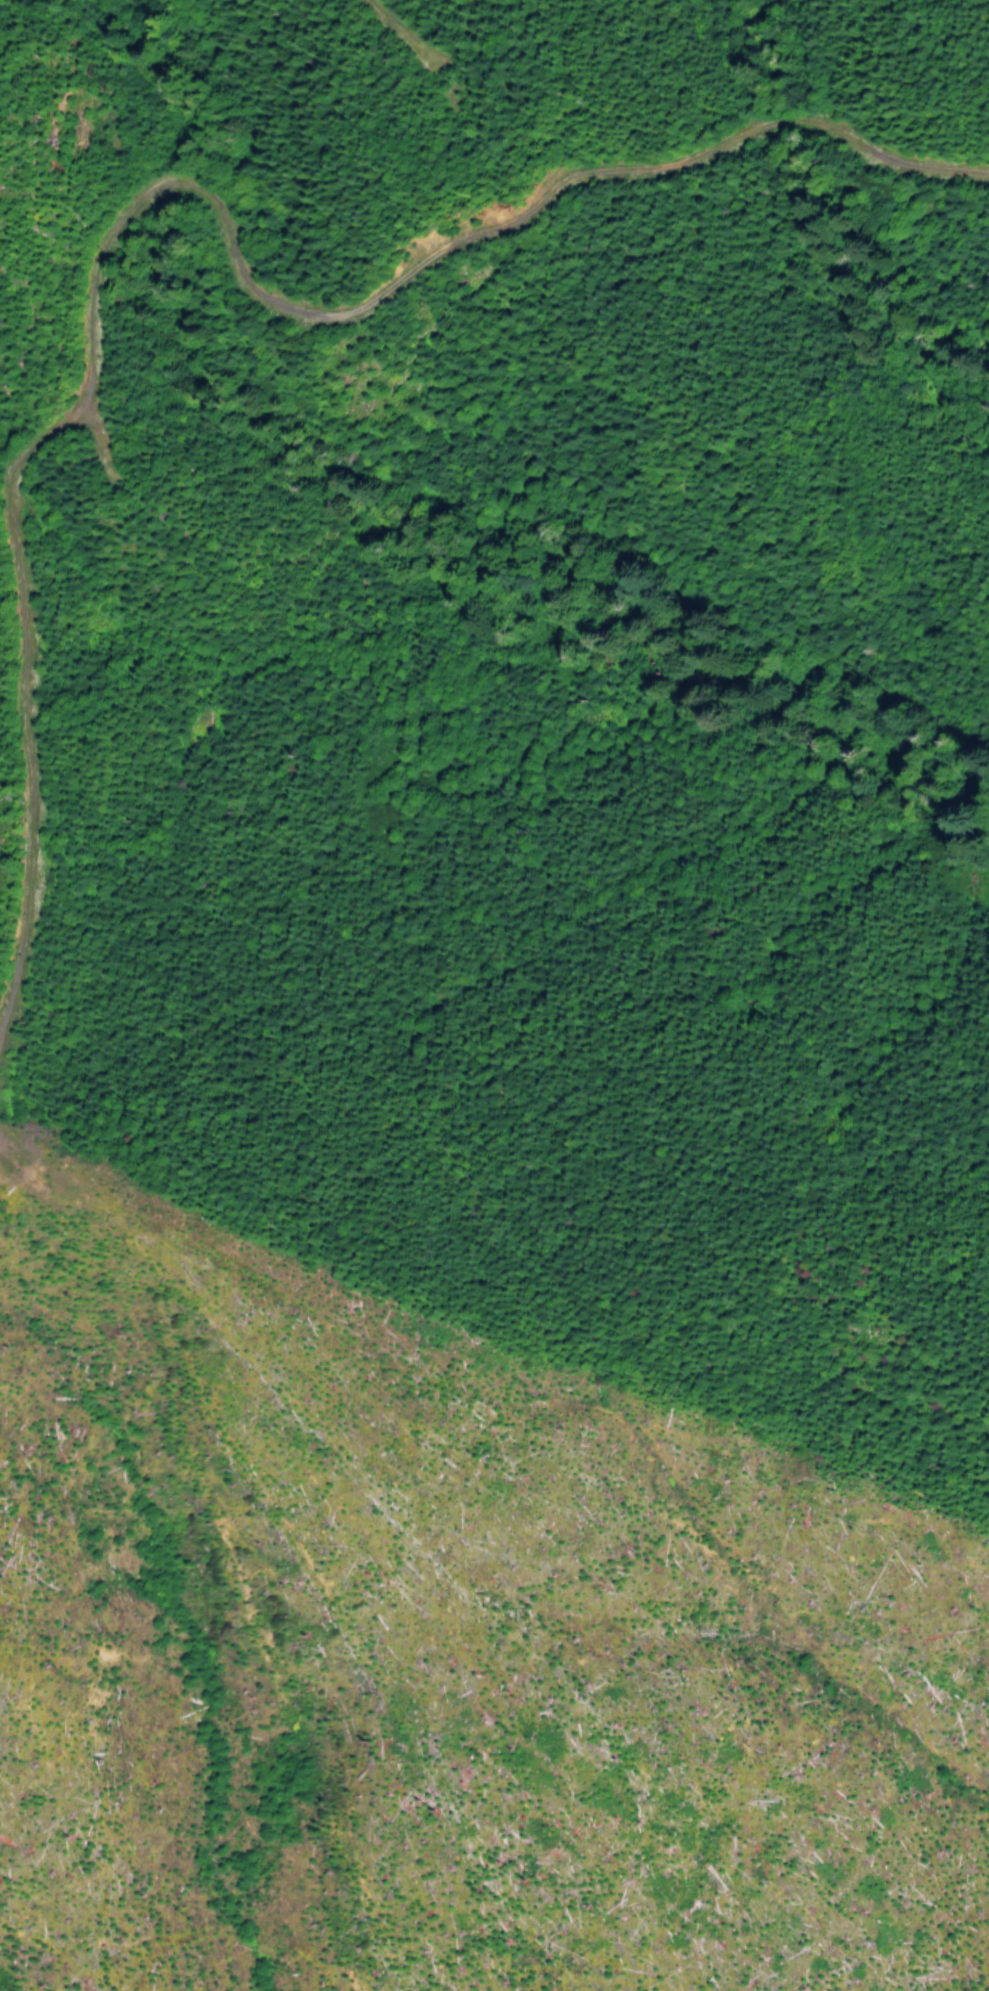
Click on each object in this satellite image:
road: (132, 126)

